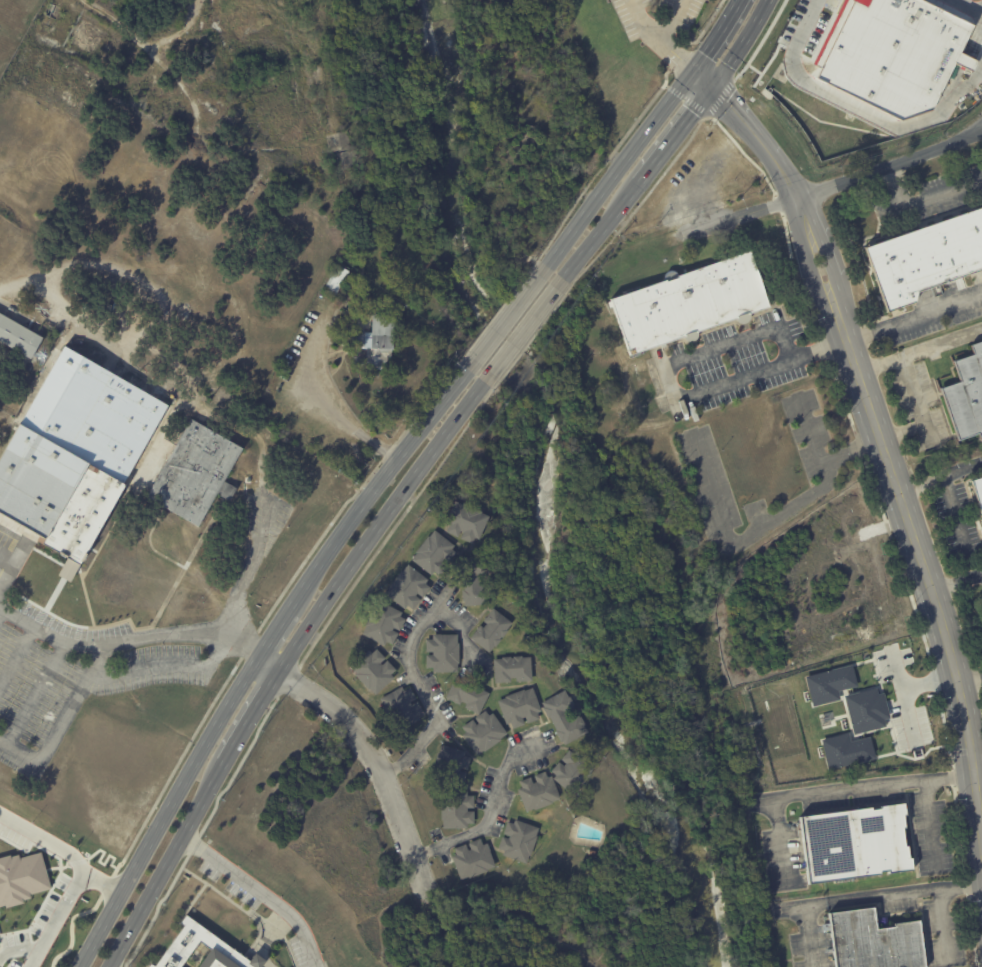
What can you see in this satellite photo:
road: (980, 0)
road: (672, 21)
road: (814, 26)
road: (659, 39)
building: (893, 53)
traffic signals: (691, 74)
traffic signals: (709, 90)
road: (969, 130)
road: (644, 132)
road: (670, 142)
building: (341, 148)
road: (887, 164)
road: (925, 201)
road: (737, 214)
building: (926, 258)
building: (336, 280)
building: (938, 288)
building: (690, 303)
road: (913, 316)
road: (509, 317)
road: (524, 329)
building: (18, 337)
building: (375, 342)
road: (942, 343)
road: (913, 388)
road: (676, 390)
building: (966, 394)
road: (335, 410)
road: (880, 439)
road: (820, 459)
building: (103, 460)
road: (939, 477)
road: (379, 479)
building: (978, 491)
road: (954, 510)
building: (465, 521)
road: (380, 525)
road: (741, 539)
building: (434, 554)
road: (245, 571)
building: (474, 580)
road: (956, 580)
building: (407, 587)
building: (383, 624)
road: (275, 626)
road: (51, 627)
building: (491, 630)
road: (183, 631)
building: (442, 653)
road: (411, 664)
building: (512, 669)
building: (372, 670)
road: (898, 671)
road: (969, 677)
building: (830, 683)
road: (908, 687)
building: (467, 694)
building: (519, 707)
building: (401, 708)
building: (865, 709)
road: (251, 715)
building: (564, 716)
road: (61, 718)
building: (483, 732)
building: (846, 750)
road: (374, 764)
building: (449, 766)
building: (572, 771)
road: (872, 784)
building: (537, 792)
building: (456, 809)
road: (166, 812)
road: (489, 813)
road: (932, 821)
park: (294, 829)
building: (518, 840)
building: (854, 845)
building: (472, 859)
road: (79, 863)
road: (167, 863)
building: (21, 875)
road: (261, 891)
road: (915, 891)
road: (943, 921)
building: (874, 941)
road: (19, 947)
building: (201, 949)
road: (35, 956)

